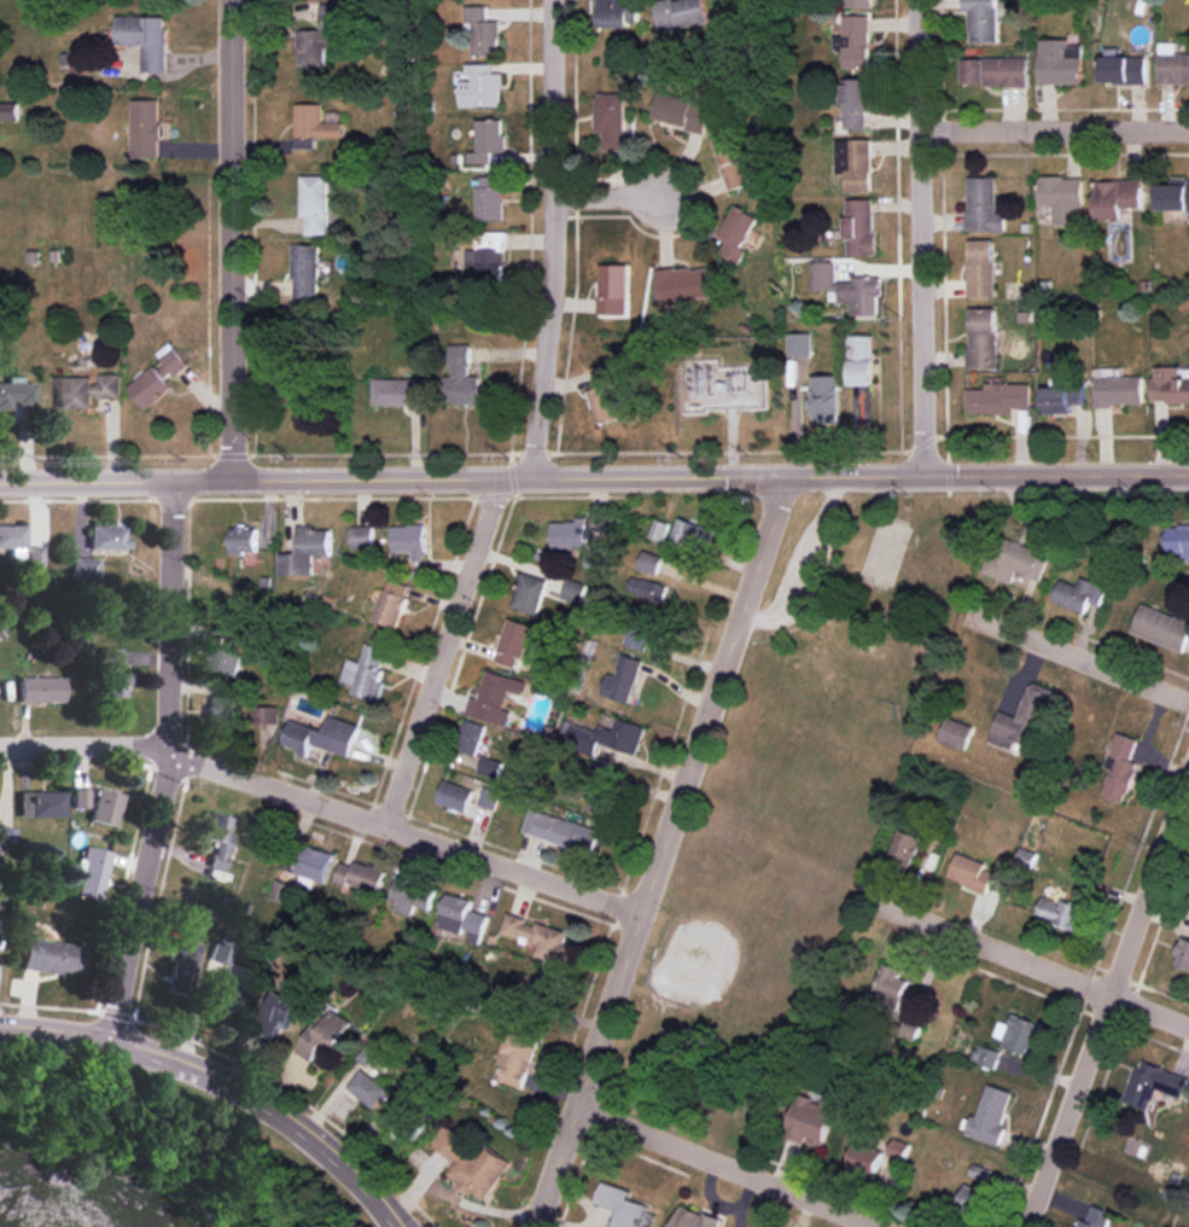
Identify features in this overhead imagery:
building: (861, 2)
building: (618, 12)
building: (681, 13)
building: (983, 19)
building: (483, 31)
building: (319, 36)
building: (144, 39)
building: (855, 41)
building: (1060, 62)
building: (1172, 64)
building: (1124, 70)
building: (995, 71)
building: (482, 86)
building: (857, 101)
building: (8, 111)
building: (682, 111)
building: (611, 120)
building: (313, 126)
building: (146, 128)
road: (1056, 132)
building: (489, 140)
building: (736, 162)
building: (856, 163)
building: (1173, 196)
building: (1118, 197)
building: (490, 198)
building: (1063, 198)
road: (611, 199)
building: (315, 204)
building: (984, 205)
building: (859, 226)
building: (738, 233)
road: (925, 237)
road: (228, 239)
road: (553, 239)
building: (490, 256)
building: (981, 268)
building: (307, 272)
building: (687, 284)
building: (613, 289)
building: (849, 289)
building: (983, 338)
building: (800, 344)
building: (863, 360)
building: (604, 373)
building: (159, 376)
building: (464, 379)
building: (1170, 385)
building: (1118, 388)
building: (86, 389)
building: (396, 391)
building: (16, 392)
building: (826, 399)
building: (998, 399)
building: (1063, 399)
building: (605, 403)
road: (594, 477)
building: (659, 530)
building: (690, 533)
building: (11, 536)
building: (363, 536)
building: (106, 537)
building: (244, 540)
building: (410, 540)
building: (1179, 540)
building: (578, 541)
building: (307, 549)
building: (33, 556)
building: (1016, 560)
building: (649, 562)
building: (82, 566)
building: (645, 587)
building: (530, 593)
building: (1080, 593)
building: (391, 603)
building: (640, 626)
building: (1162, 627)
building: (513, 642)
road: (439, 652)
building: (109, 657)
road: (1080, 658)
building: (227, 661)
building: (366, 673)
building: (620, 678)
building: (115, 684)
building: (42, 690)
building: (495, 697)
building: (221, 710)
building: (263, 715)
building: (1024, 720)
building: (956, 733)
building: (321, 735)
building: (470, 737)
building: (607, 737)
road: (170, 763)
building: (1121, 768)
building: (454, 796)
building: (80, 797)
building: (488, 797)
building: (601, 802)
building: (40, 803)
park: (794, 806)
building: (105, 807)
road: (325, 807)
building: (561, 831)
building: (217, 837)
building: (905, 847)
road: (661, 853)
building: (91, 872)
building: (972, 872)
building: (301, 873)
building: (361, 876)
building: (410, 895)
building: (1062, 912)
building: (462, 918)
building: (540, 937)
building: (1183, 954)
building: (52, 956)
road: (1031, 961)
building: (180, 967)
building: (223, 967)
building: (547, 983)
building: (893, 983)
road: (1106, 1001)
building: (280, 1010)
building: (910, 1030)
building: (1020, 1034)
building: (324, 1037)
building: (990, 1057)
building: (515, 1058)
road: (223, 1083)
building: (1154, 1083)
building: (368, 1088)
building: (990, 1116)
building: (404, 1118)
building: (811, 1118)
building: (899, 1149)
building: (865, 1157)
building: (474, 1167)
road: (723, 1169)
building: (973, 1202)
building: (620, 1205)
building: (1096, 1217)
building: (694, 1219)
river: (2, 1225)

